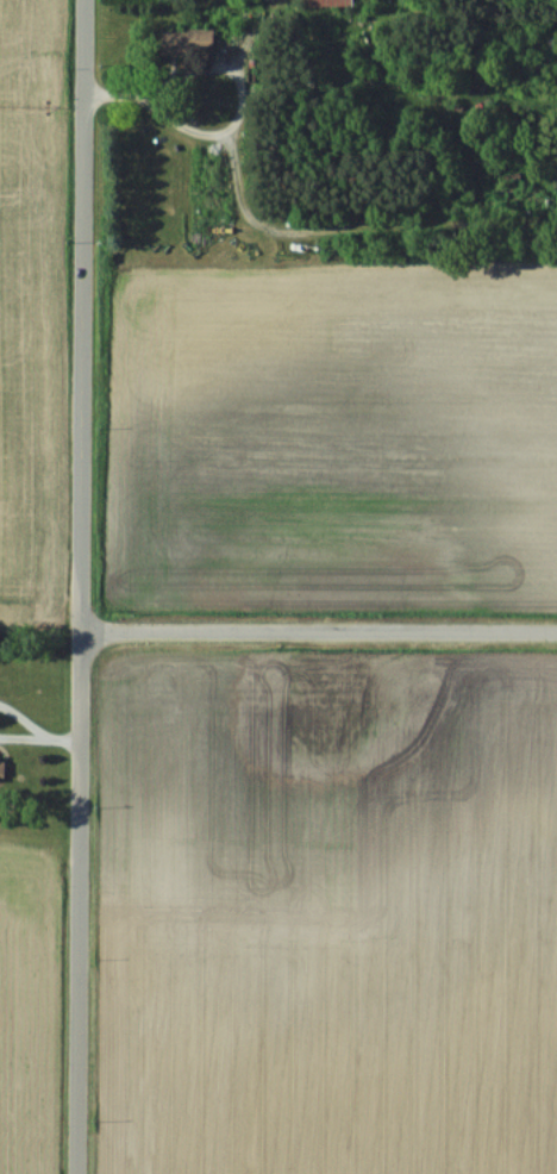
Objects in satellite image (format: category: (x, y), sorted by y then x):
building: (274, 0)
building: (327, 2)
building: (180, 40)
road: (286, 230)
road: (85, 587)
road: (320, 636)
road: (20, 722)
road: (20, 738)
road: (62, 739)
building: (1, 769)

